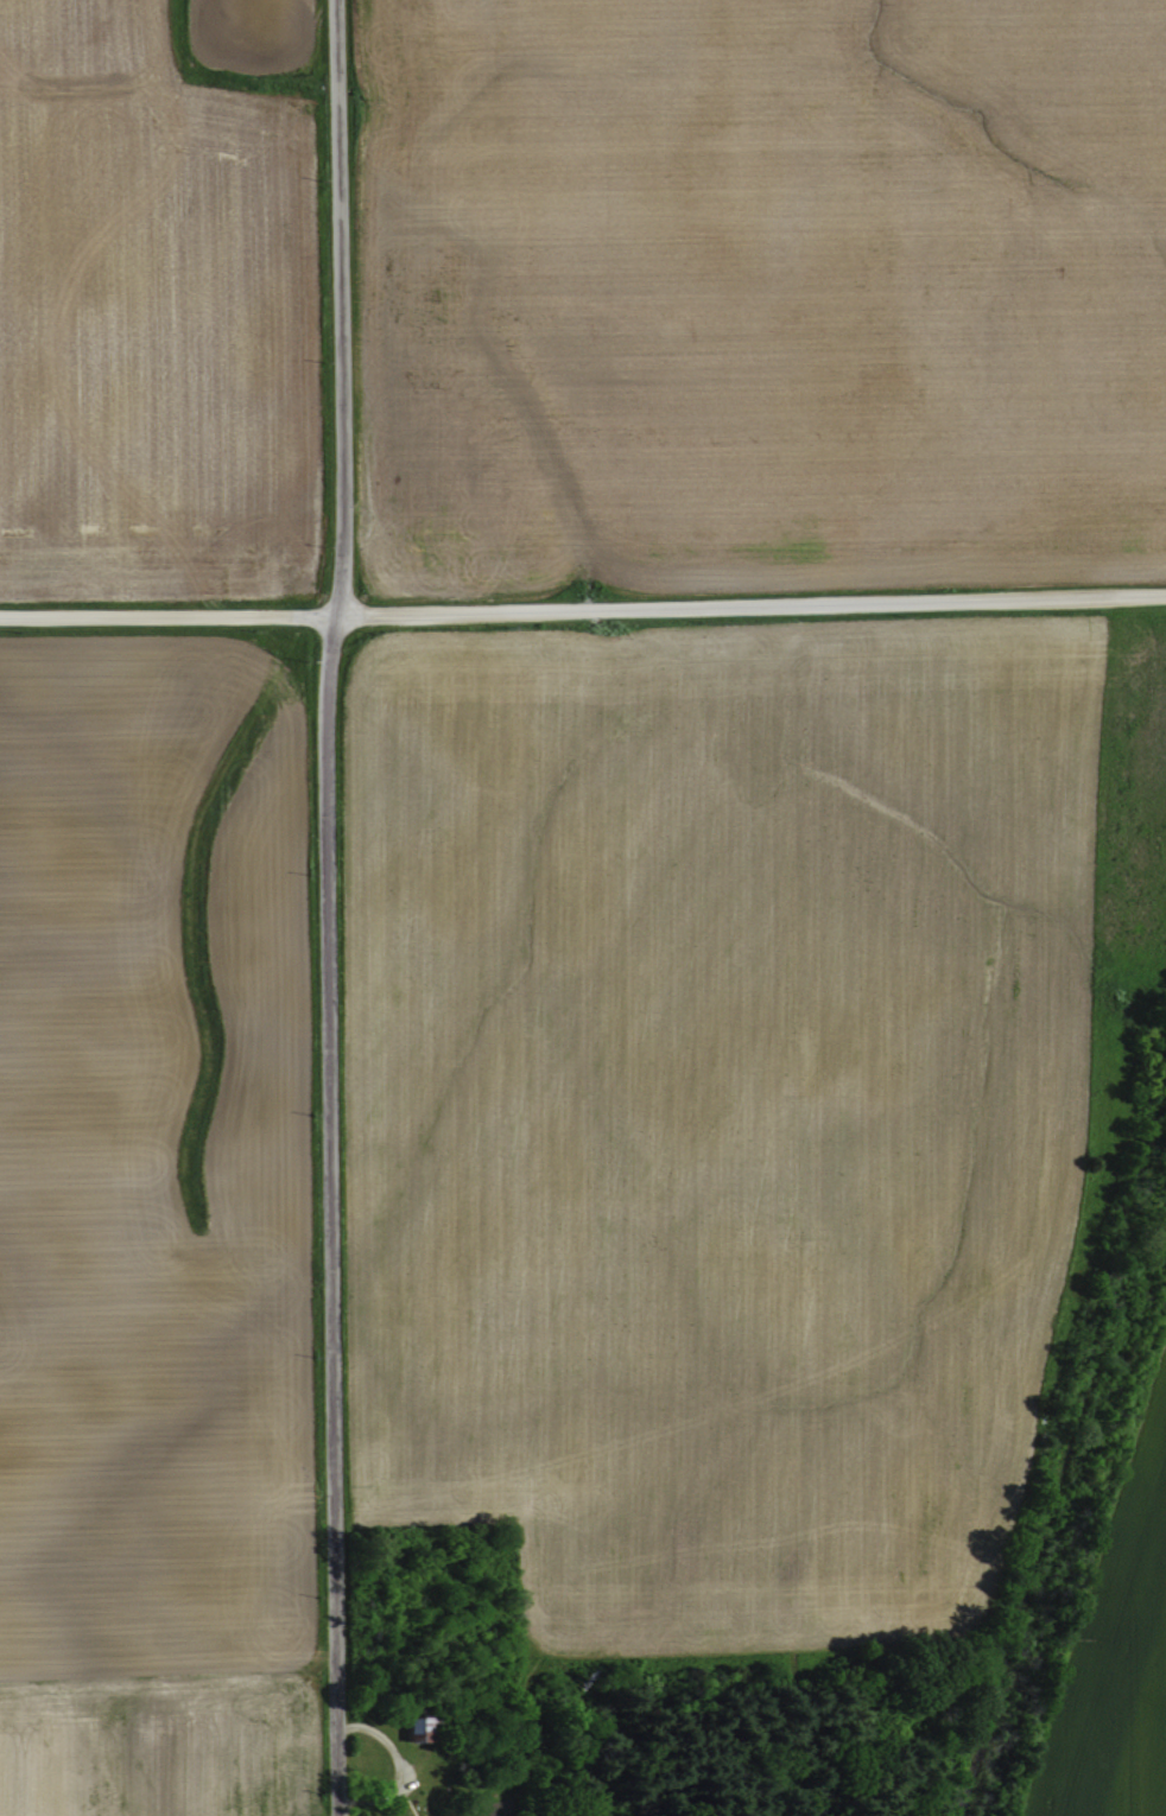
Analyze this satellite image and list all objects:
road: (338, 306)
road: (583, 607)
road: (330, 1214)
road: (405, 1765)

